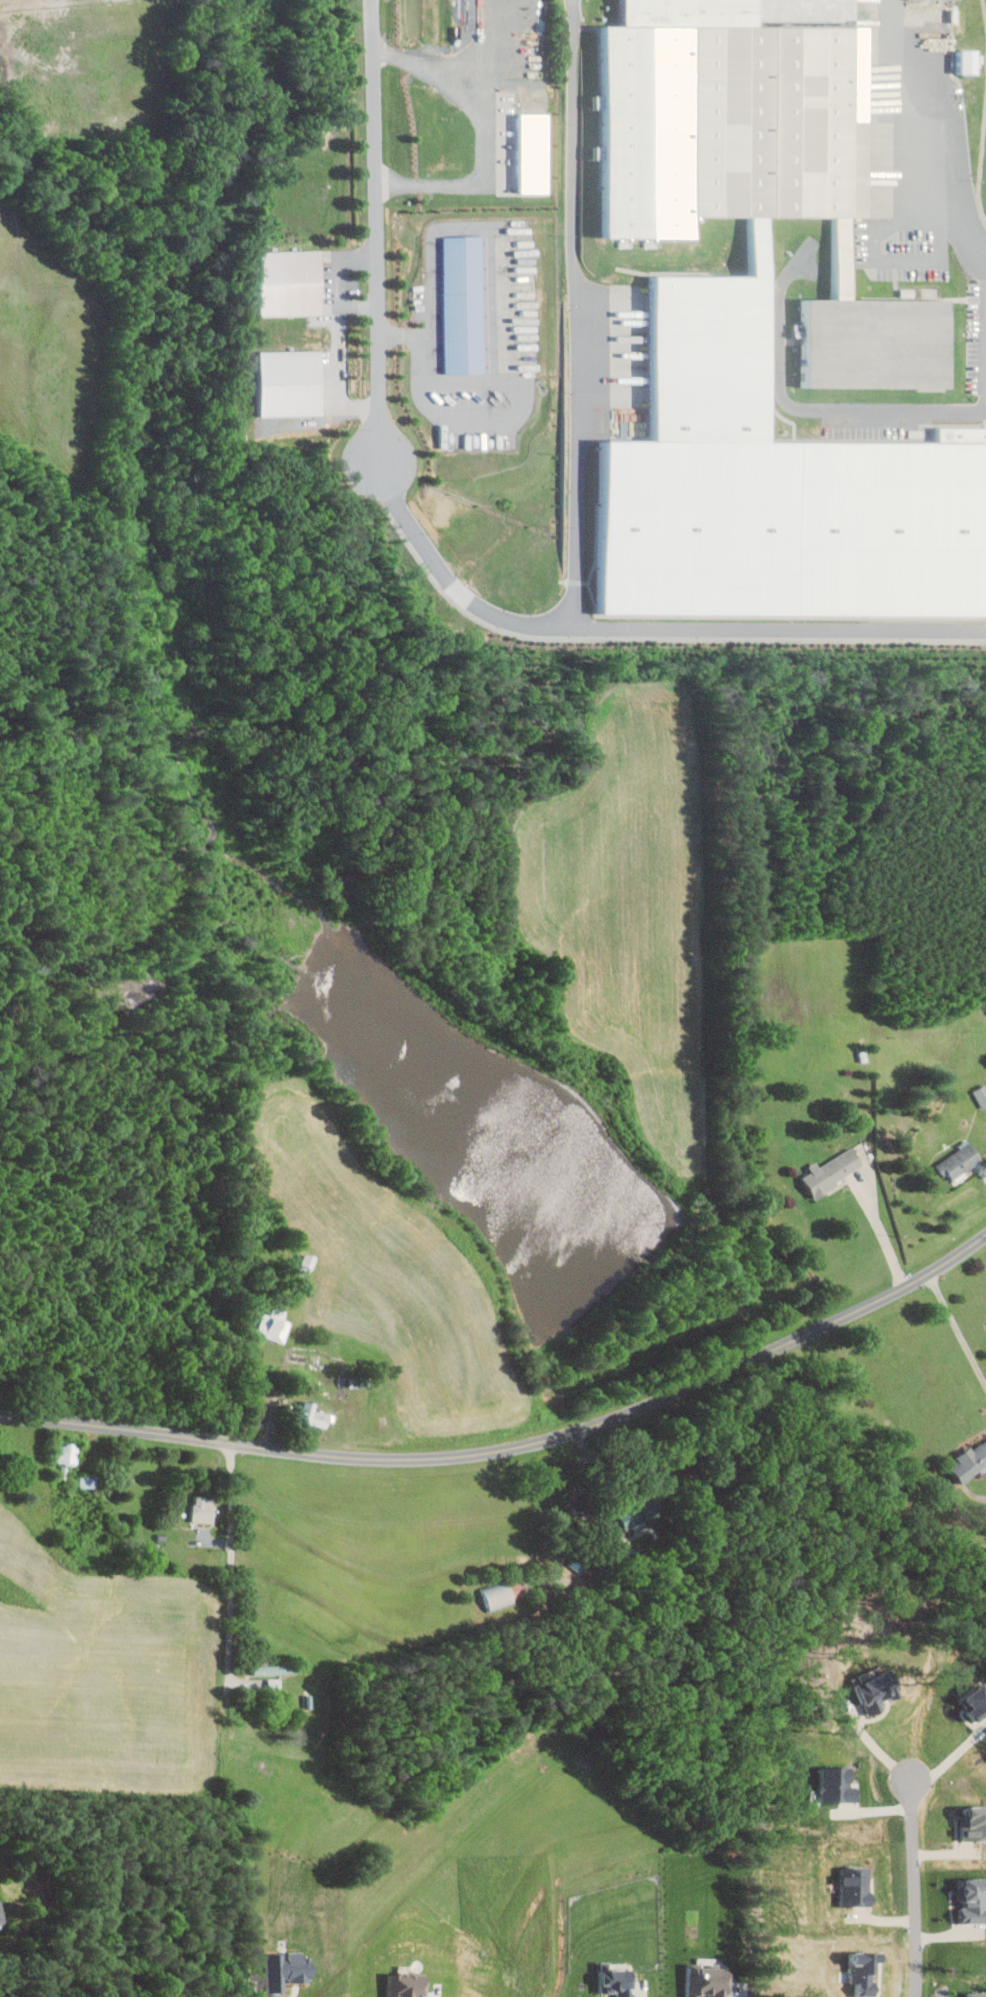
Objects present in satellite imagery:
building: (969, 60)
building: (726, 112)
road: (895, 113)
road: (487, 134)
building: (535, 153)
road: (483, 226)
road: (954, 232)
road: (376, 234)
building: (291, 282)
road: (359, 304)
building: (465, 304)
road: (341, 333)
building: (867, 333)
building: (293, 382)
road: (470, 416)
building: (771, 487)
road: (574, 519)
road: (451, 583)
building: (982, 1095)
building: (961, 1161)
building: (834, 1171)
road: (882, 1234)
road: (957, 1327)
building: (272, 1328)
building: (315, 1416)
road: (515, 1448)
building: (69, 1453)
building: (971, 1463)
building: (204, 1508)
building: (635, 1514)
road: (232, 1563)
building: (496, 1595)
building: (275, 1669)
building: (881, 1693)
building: (976, 1702)
road: (870, 1741)
building: (838, 1784)
building: (974, 1823)
road: (913, 1882)
building: (857, 1886)
building: (2, 1914)
building: (289, 1969)
building: (618, 1981)
building: (711, 1981)
road: (252, 1990)
building: (975, 1994)

